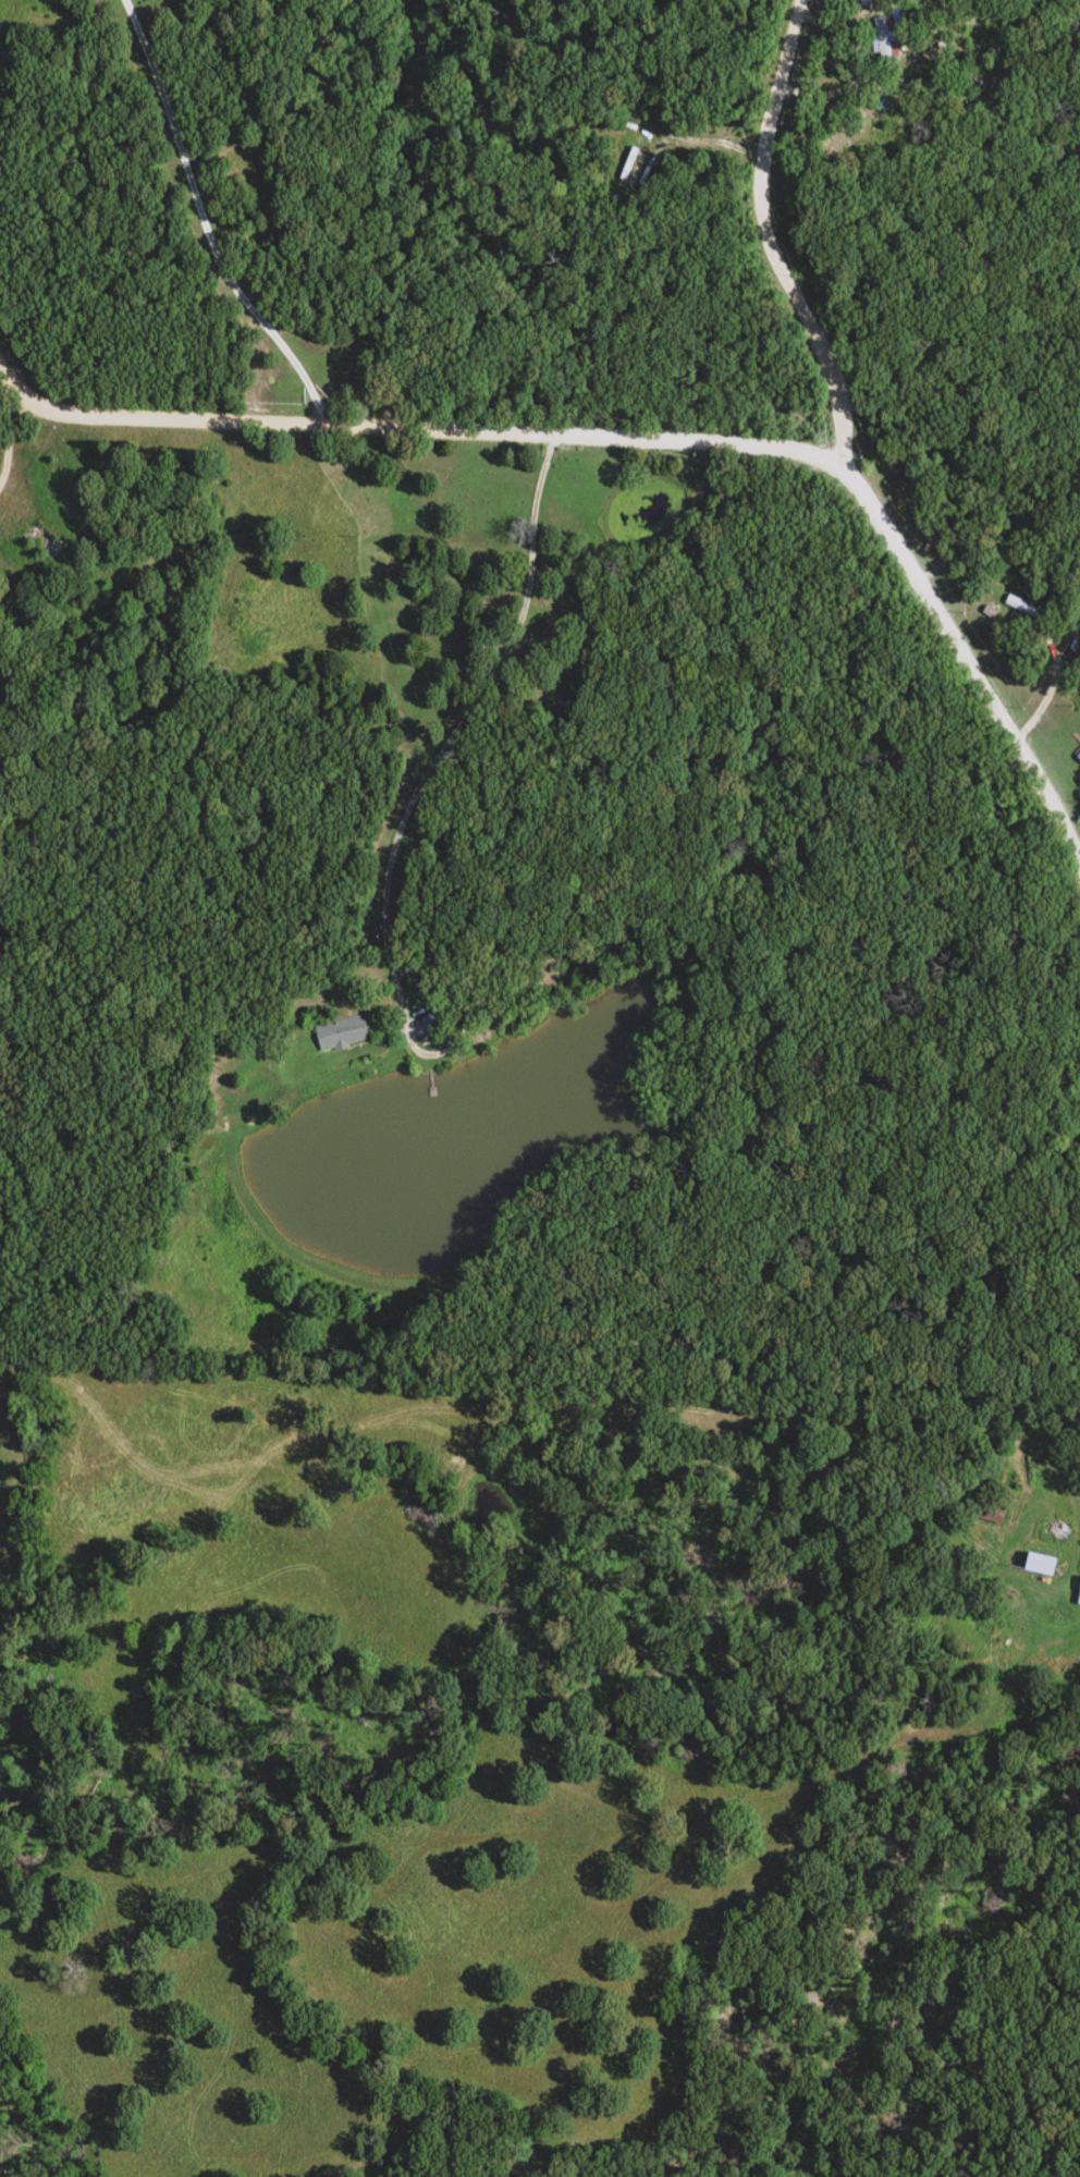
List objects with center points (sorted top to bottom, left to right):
building: (860, 2)
building: (879, 41)
road: (196, 230)
road: (764, 247)
road: (9, 431)
road: (683, 438)
building: (1016, 606)
road: (453, 729)
building: (1077, 756)
building: (340, 1034)
building: (1051, 1534)
building: (1034, 1566)
building: (1076, 1594)

